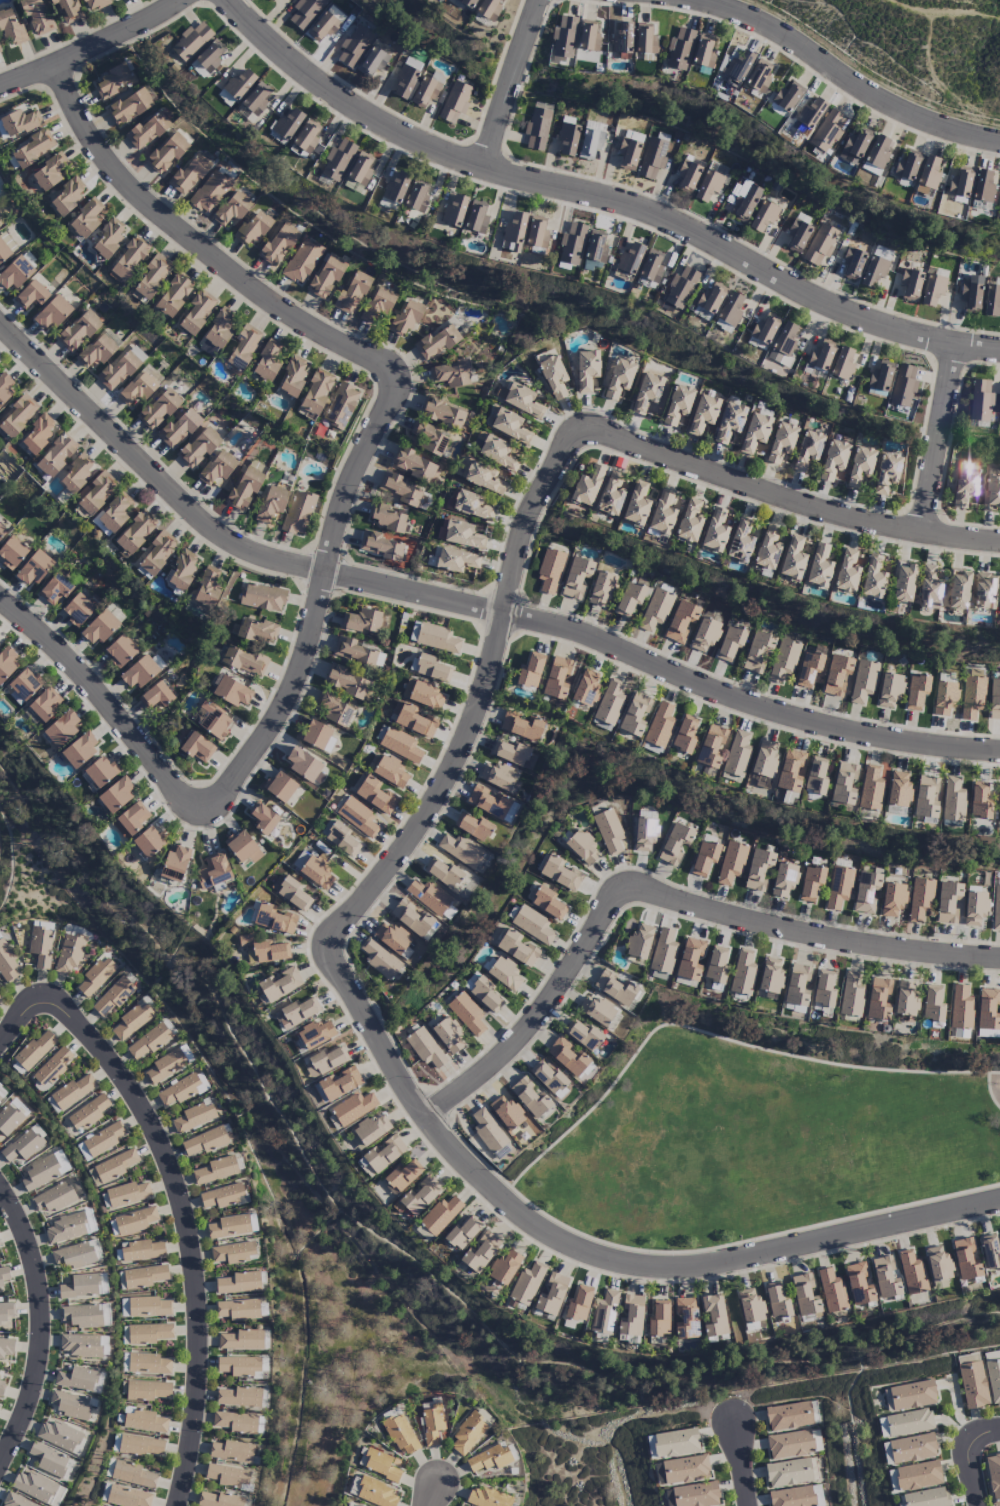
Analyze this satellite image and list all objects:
building: (271, 0)
building: (467, 3)
building: (94, 4)
building: (488, 9)
building: (67, 11)
building: (306, 12)
road: (943, 15)
building: (36, 16)
building: (324, 27)
building: (11, 29)
building: (564, 36)
building: (588, 36)
building: (622, 39)
building: (645, 40)
building: (191, 41)
building: (354, 46)
park: (911, 48)
road: (94, 49)
building: (679, 49)
building: (703, 52)
building: (210, 56)
building: (373, 62)
building: (738, 66)
building: (198, 69)
building: (759, 76)
road: (849, 80)
building: (405, 81)
building: (111, 82)
building: (239, 83)
road: (510, 83)
building: (427, 90)
building: (787, 97)
building: (256, 100)
building: (454, 101)
building: (129, 107)
building: (810, 113)
building: (19, 122)
building: (287, 124)
building: (537, 128)
building: (827, 130)
building: (147, 131)
building: (307, 136)
building: (567, 138)
building: (590, 143)
building: (854, 146)
building: (34, 148)
building: (629, 150)
building: (878, 152)
building: (167, 153)
building: (652, 158)
building: (337, 160)
building: (907, 165)
building: (50, 171)
building: (358, 174)
building: (188, 175)
building: (687, 176)
building: (928, 176)
building: (959, 184)
building: (708, 186)
building: (983, 187)
building: (396, 188)
building: (210, 191)
building: (68, 195)
road: (598, 197)
building: (417, 198)
building: (999, 198)
building: (742, 200)
building: (232, 208)
building: (454, 211)
building: (764, 216)
building: (476, 218)
building: (85, 219)
building: (252, 228)
building: (536, 232)
building: (513, 233)
building: (797, 235)
building: (109, 237)
building: (6, 240)
building: (279, 244)
building: (572, 244)
building: (820, 244)
building: (596, 246)
building: (3, 251)
road: (205, 255)
building: (129, 259)
building: (629, 259)
building: (302, 261)
building: (852, 263)
building: (651, 266)
building: (874, 271)
building: (14, 274)
building: (152, 277)
building: (326, 277)
building: (910, 284)
building: (680, 288)
building: (933, 290)
building: (353, 292)
building: (971, 293)
building: (31, 295)
building: (173, 296)
building: (710, 298)
building: (992, 300)
building: (378, 304)
building: (197, 312)
building: (53, 313)
building: (729, 313)
building: (701, 314)
building: (405, 318)
building: (764, 328)
building: (79, 330)
building: (218, 331)
building: (785, 338)
building: (436, 342)
building: (242, 348)
building: (96, 351)
building: (821, 355)
building: (778, 357)
building: (267, 361)
building: (843, 363)
building: (586, 370)
building: (117, 371)
building: (451, 374)
building: (292, 376)
building: (880, 376)
building: (553, 377)
building: (619, 378)
building: (903, 386)
building: (5, 387)
building: (137, 388)
building: (316, 393)
building: (648, 394)
building: (522, 400)
building: (980, 400)
building: (677, 404)
building: (341, 405)
building: (159, 408)
building: (442, 413)
building: (703, 413)
building: (17, 417)
building: (729, 422)
building: (510, 426)
building: (178, 429)
building: (755, 432)
building: (37, 435)
building: (429, 438)
road: (935, 441)
building: (781, 442)
building: (199, 447)
building: (807, 450)
building: (497, 453)
building: (55, 456)
building: (834, 460)
building: (414, 464)
building: (860, 465)
building: (217, 468)
building: (76, 473)
building: (886, 473)
building: (483, 478)
building: (965, 484)
building: (586, 486)
building: (245, 487)
building: (398, 489)
building: (992, 489)
building: (97, 492)
building: (611, 495)
building: (271, 503)
building: (636, 504)
building: (472, 506)
building: (114, 512)
building: (298, 513)
building: (662, 513)
building: (386, 517)
building: (689, 521)
building: (2, 530)
building: (714, 531)
building: (135, 533)
building: (462, 535)
road: (919, 536)
building: (739, 541)
building: (380, 545)
building: (767, 548)
building: (12, 552)
building: (155, 553)
building: (792, 558)
building: (456, 560)
building: (819, 566)
building: (34, 568)
building: (182, 570)
road: (516, 570)
building: (550, 570)
building: (846, 571)
building: (576, 577)
building: (873, 578)
building: (903, 582)
building: (207, 588)
building: (602, 588)
building: (928, 588)
building: (55, 589)
building: (958, 589)
building: (983, 591)
building: (263, 597)
building: (629, 599)
road: (319, 603)
road: (463, 604)
building: (77, 609)
building: (655, 609)
building: (362, 621)
building: (681, 621)
building: (99, 627)
building: (256, 630)
building: (704, 635)
building: (437, 638)
building: (730, 643)
building: (120, 650)
building: (758, 651)
building: (353, 652)
building: (784, 660)
building: (7, 661)
building: (245, 661)
building: (808, 669)
building: (530, 670)
building: (140, 672)
building: (837, 675)
building: (557, 678)
building: (863, 681)
building: (346, 682)
building: (23, 686)
building: (586, 687)
building: (889, 690)
building: (231, 691)
building: (916, 692)
building: (422, 694)
building: (156, 696)
building: (944, 697)
building: (972, 697)
building: (994, 699)
building: (609, 702)
building: (45, 703)
building: (334, 709)
road: (111, 711)
building: (634, 714)
building: (211, 720)
building: (413, 720)
building: (660, 725)
building: (522, 726)
building: (62, 728)
building: (684, 734)
building: (316, 735)
building: (401, 745)
building: (711, 746)
building: (197, 747)
building: (79, 749)
building: (510, 753)
building: (737, 754)
building: (764, 759)
building: (303, 764)
building: (790, 770)
building: (101, 771)
building: (391, 772)
building: (497, 776)
building: (816, 776)
building: (843, 783)
building: (280, 786)
building: (870, 788)
building: (898, 790)
building: (116, 794)
building: (375, 795)
building: (925, 798)
building: (952, 799)
building: (979, 800)
building: (998, 804)
building: (358, 817)
building: (262, 818)
building: (131, 819)
building: (473, 826)
building: (608, 831)
building: (645, 833)
building: (341, 840)
building: (148, 841)
building: (675, 843)
building: (242, 847)
building: (582, 848)
building: (461, 850)
building: (704, 857)
building: (731, 862)
building: (175, 864)
building: (758, 869)
building: (313, 870)
building: (214, 873)
building: (443, 873)
building: (561, 874)
building: (784, 879)
building: (811, 883)
building: (838, 887)
building: (866, 891)
building: (290, 892)
road: (661, 892)
building: (430, 898)
building: (892, 899)
building: (920, 899)
building: (947, 902)
building: (548, 903)
building: (975, 908)
building: (996, 908)
building: (411, 918)
building: (274, 919)
building: (532, 925)
building: (392, 939)
building: (640, 940)
building: (40, 946)
building: (516, 948)
building: (264, 949)
building: (663, 951)
building: (69, 953)
building: (378, 958)
building: (690, 959)
building: (6, 963)
building: (716, 964)
building: (502, 973)
building: (742, 973)
building: (770, 976)
building: (95, 977)
building: (280, 984)
building: (797, 984)
building: (615, 988)
building: (823, 988)
building: (1, 991)
building: (482, 992)
building: (851, 995)
building: (112, 997)
building: (906, 998)
building: (878, 999)
building: (933, 1004)
building: (961, 1008)
building: (596, 1009)
building: (297, 1012)
building: (987, 1013)
building: (467, 1015)
road: (23, 1018)
building: (131, 1021)
building: (316, 1034)
building: (583, 1035)
building: (448, 1036)
building: (148, 1042)
building: (35, 1049)
building: (426, 1049)
building: (568, 1057)
building: (324, 1061)
building: (52, 1067)
building: (164, 1067)
building: (549, 1079)
building: (339, 1084)
building: (181, 1090)
road: (989, 1091)
building: (72, 1092)
building: (1, 1095)
building: (530, 1097)
building: (353, 1108)
building: (89, 1112)
building: (507, 1113)
building: (11, 1116)
building: (194, 1117)
building: (370, 1130)
building: (487, 1131)
building: (100, 1141)
building: (205, 1141)
park: (760, 1142)
building: (24, 1145)
building: (500, 1152)
building: (384, 1153)
building: (114, 1166)
road: (526, 1166)
building: (44, 1171)
building: (214, 1171)
building: (402, 1176)
building: (127, 1194)
building: (420, 1195)
building: (223, 1196)
building: (52, 1198)
building: (440, 1215)
building: (135, 1220)
building: (229, 1226)
building: (67, 1228)
road: (186, 1229)
building: (463, 1232)
building: (0, 1245)
building: (142, 1250)
road: (596, 1251)
building: (480, 1252)
building: (990, 1252)
building: (233, 1253)
building: (74, 1256)
building: (966, 1260)
building: (938, 1264)
building: (504, 1266)
building: (912, 1273)
building: (3, 1276)
building: (144, 1276)
building: (885, 1278)
building: (237, 1283)
building: (526, 1284)
building: (858, 1284)
building: (82, 1286)
building: (831, 1291)
building: (551, 1294)
building: (805, 1298)
building: (776, 1301)
building: (578, 1304)
building: (750, 1305)
building: (145, 1307)
building: (238, 1309)
building: (6, 1312)
building: (604, 1313)
building: (631, 1315)
building: (713, 1315)
building: (82, 1316)
building: (686, 1318)
building: (659, 1319)
road: (39, 1325)
building: (148, 1333)
building: (242, 1340)
building: (80, 1345)
building: (6, 1348)
building: (148, 1364)
building: (239, 1366)
building: (993, 1376)
building: (77, 1379)
building: (972, 1385)
building: (1, 1387)
building: (148, 1390)
building: (912, 1395)
building: (239, 1397)
building: (70, 1405)
building: (789, 1416)
building: (144, 1420)
building: (236, 1422)
building: (431, 1423)
building: (909, 1423)
building: (468, 1432)
building: (400, 1433)
road: (990, 1434)
building: (59, 1436)
building: (816, 1439)
building: (675, 1443)
building: (790, 1444)
building: (140, 1445)
building: (912, 1448)
building: (232, 1452)
building: (489, 1459)
building: (379, 1464)
road: (738, 1465)
building: (685, 1469)
road: (967, 1469)
building: (788, 1472)
building: (132, 1474)
building: (918, 1475)
building: (228, 1476)
building: (993, 1477)
building: (34, 1486)
road: (434, 1493)
building: (376, 1494)
building: (696, 1495)
building: (127, 1496)
building: (792, 1497)
building: (488, 1498)
building: (927, 1498)
building: (219, 1500)
building: (15, 1501)
building: (359, 1505)

